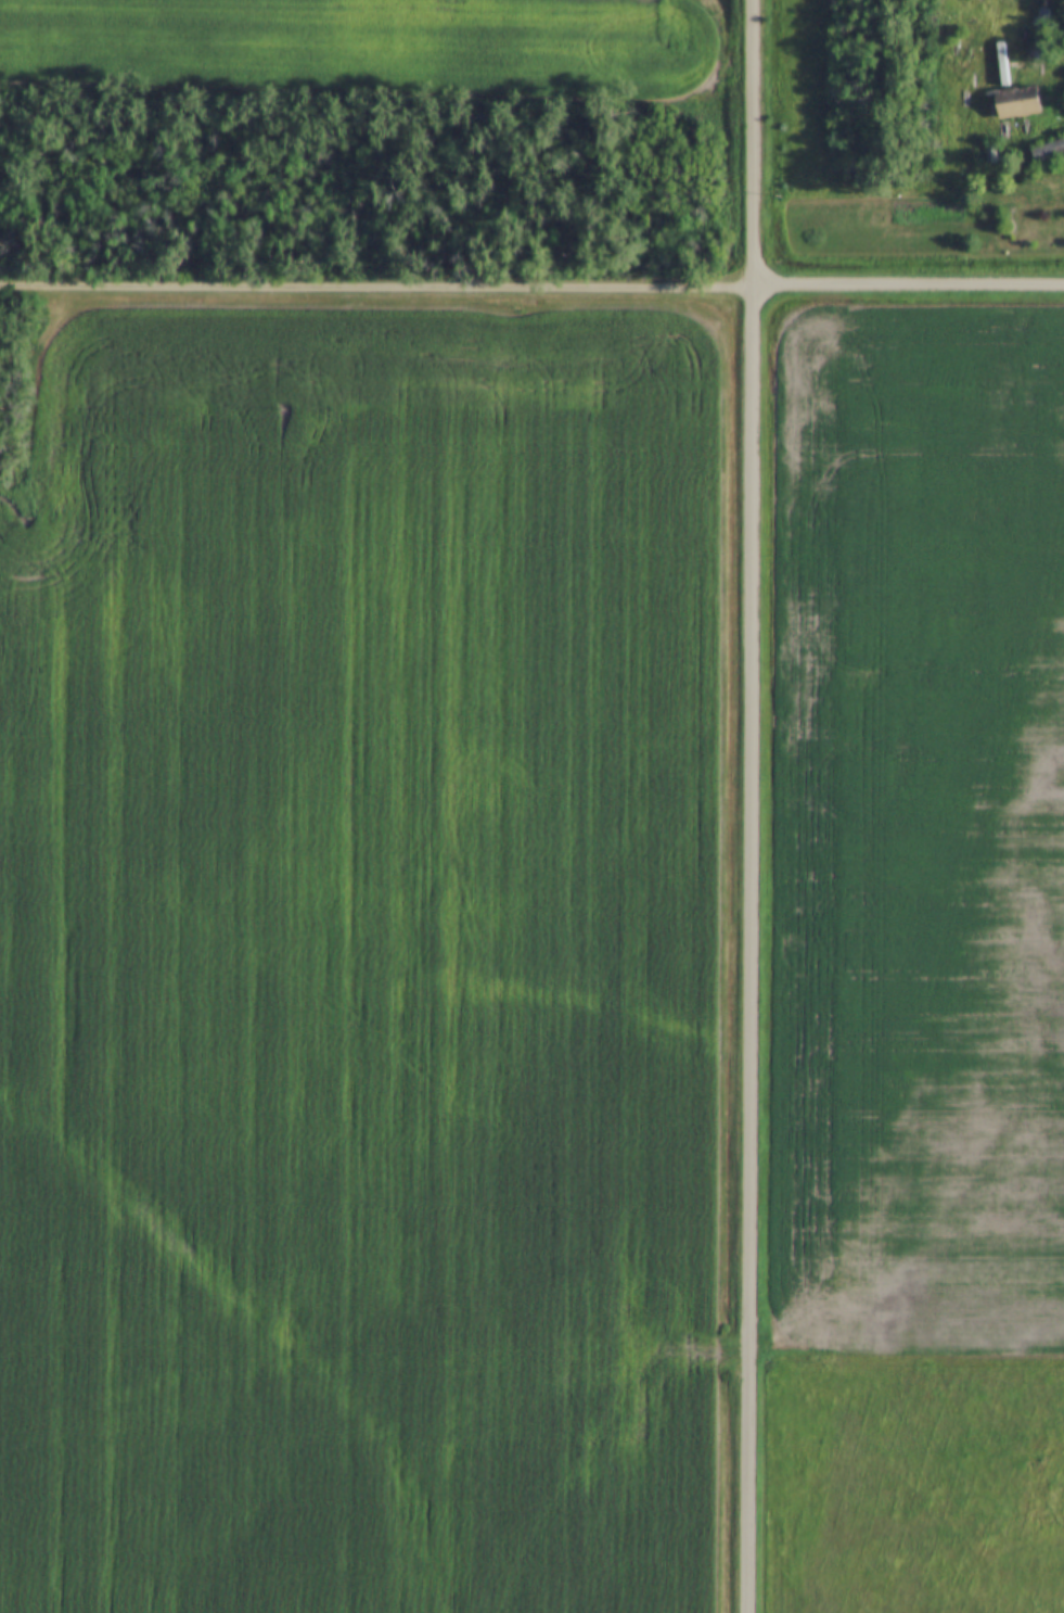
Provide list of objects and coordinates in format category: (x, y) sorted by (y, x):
building: (1046, 152)
road: (375, 285)
road: (907, 285)
road: (748, 805)

